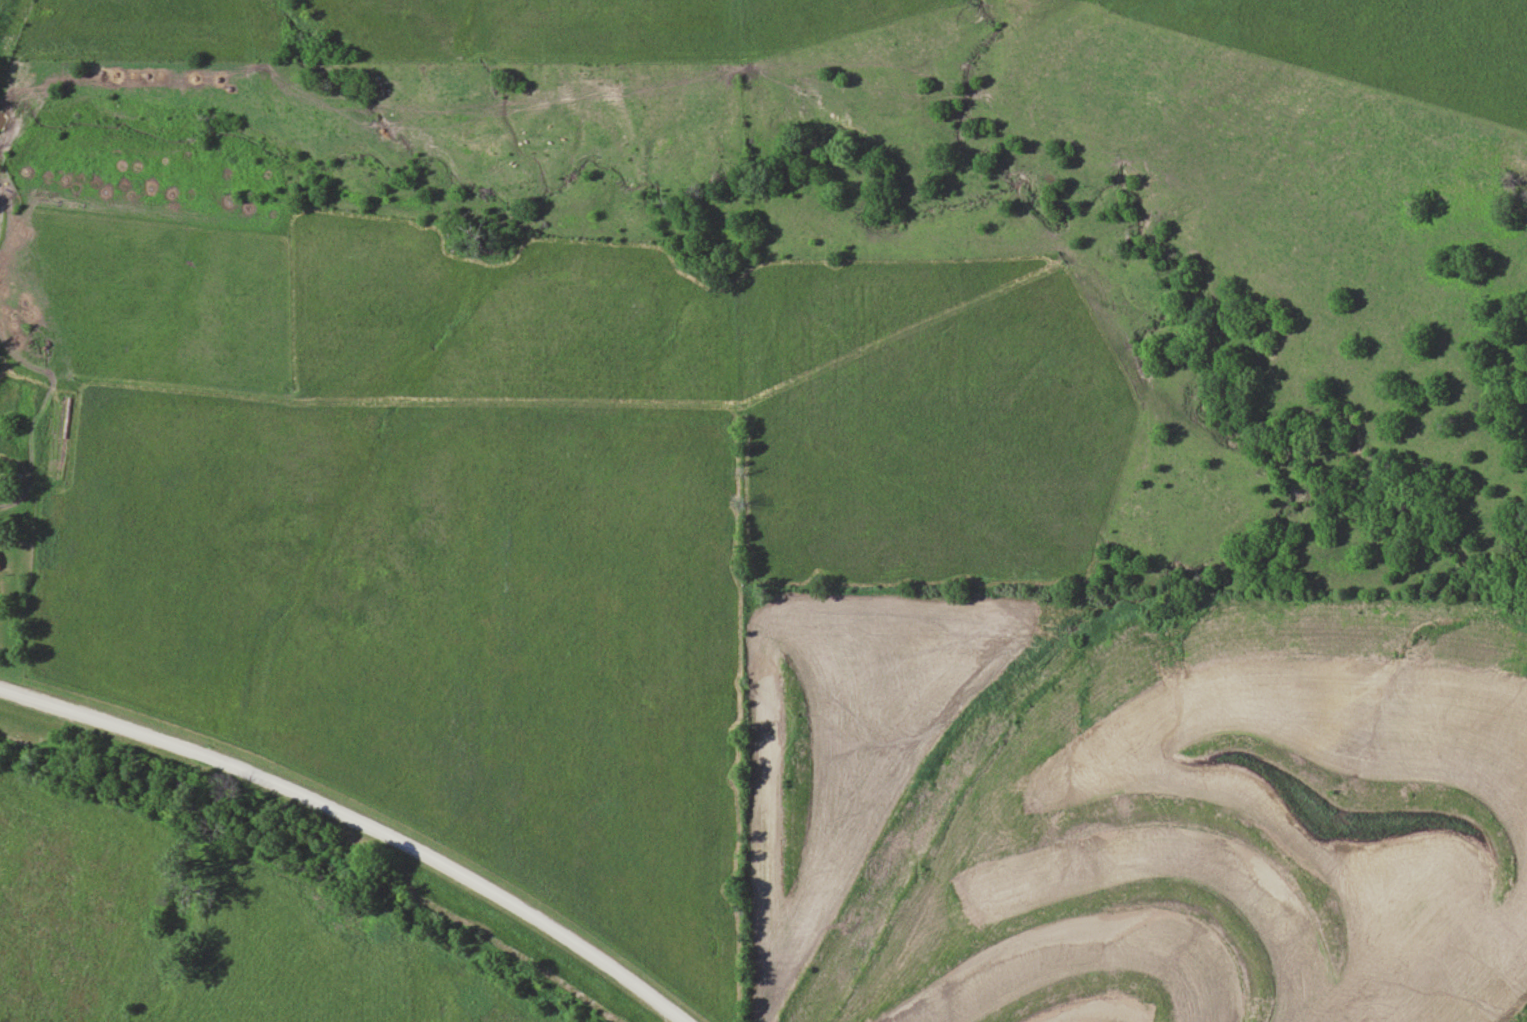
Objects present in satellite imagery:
road: (354, 823)

